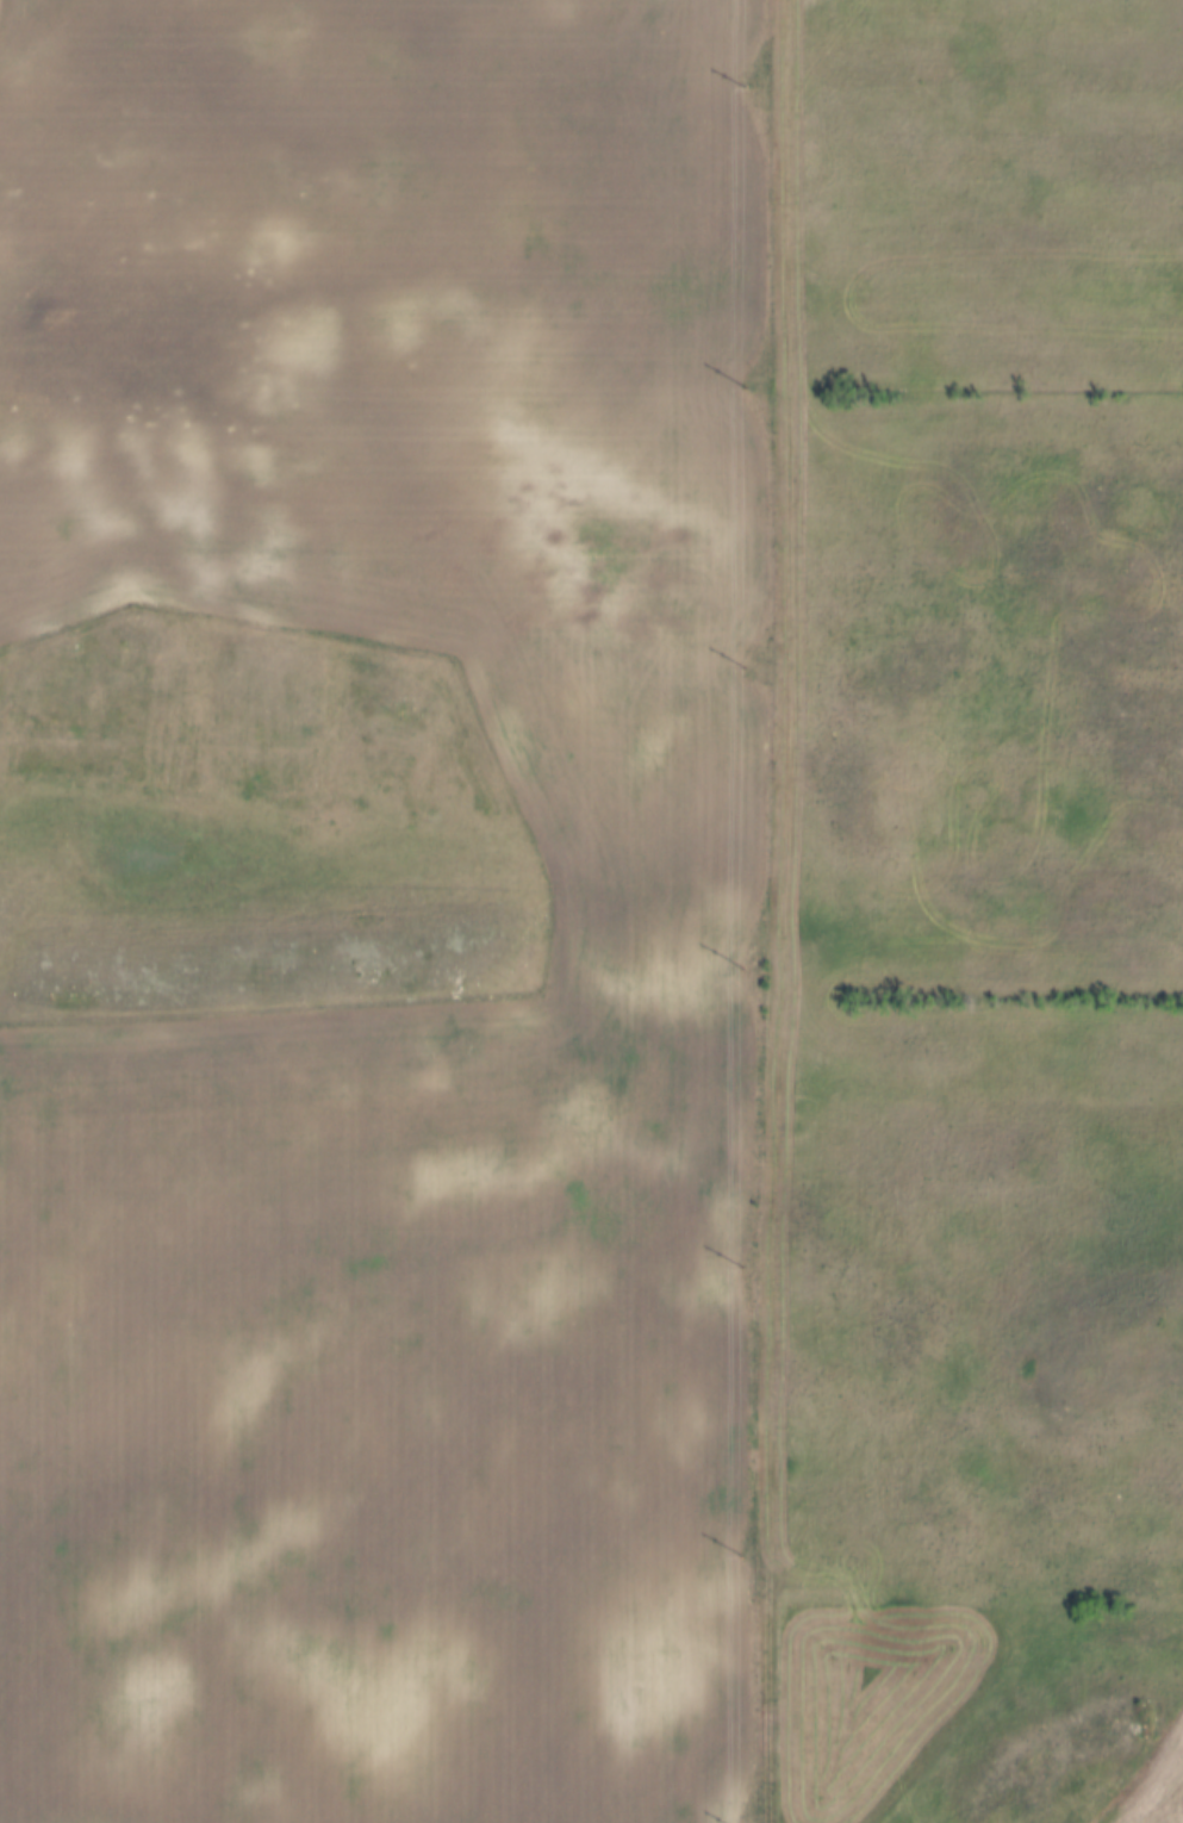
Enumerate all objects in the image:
road: (780, 910)

